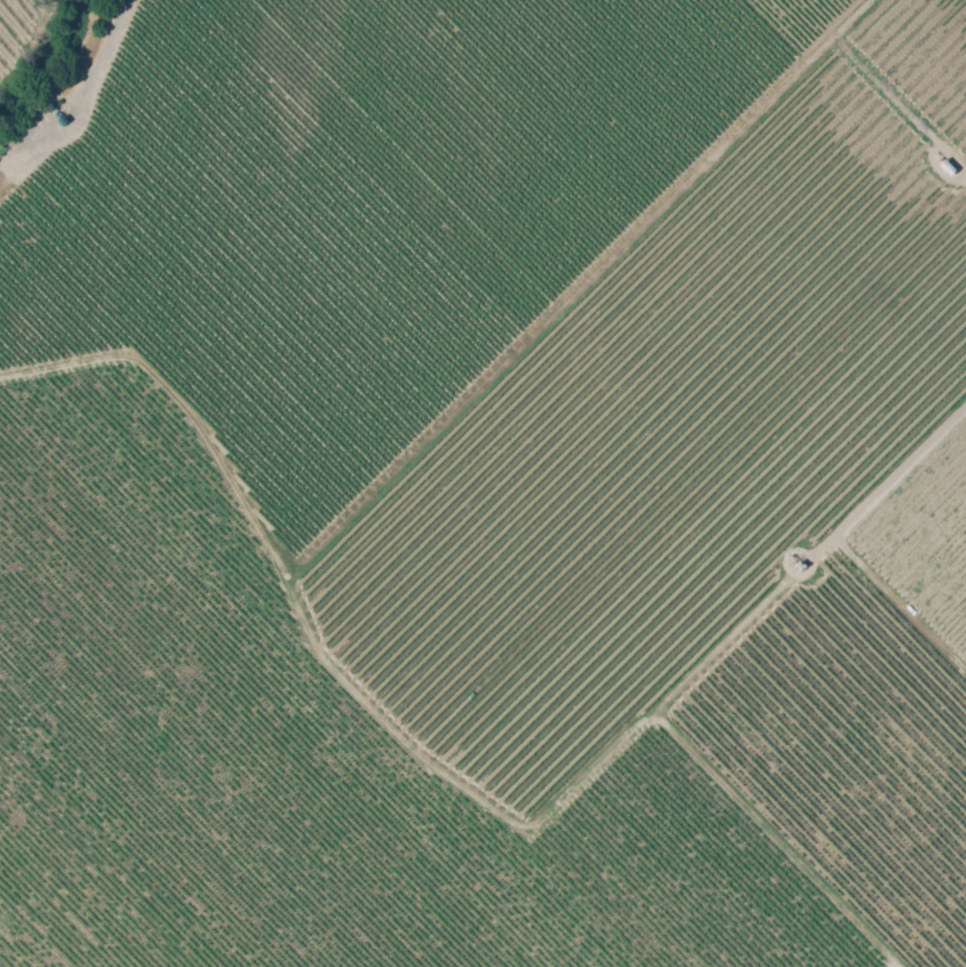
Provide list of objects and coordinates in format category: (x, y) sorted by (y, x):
building: (946, 164)
building: (800, 562)

